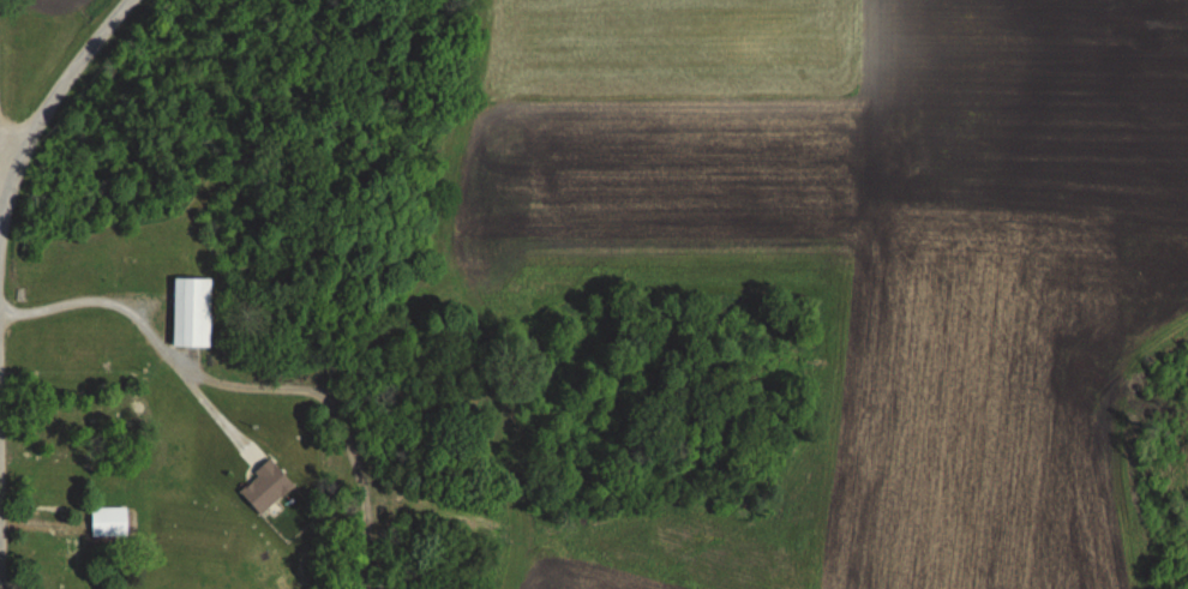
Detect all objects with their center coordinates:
road: (61, 86)
building: (191, 312)
road: (145, 332)
building: (108, 522)
building: (58, 560)
road: (0, 561)

